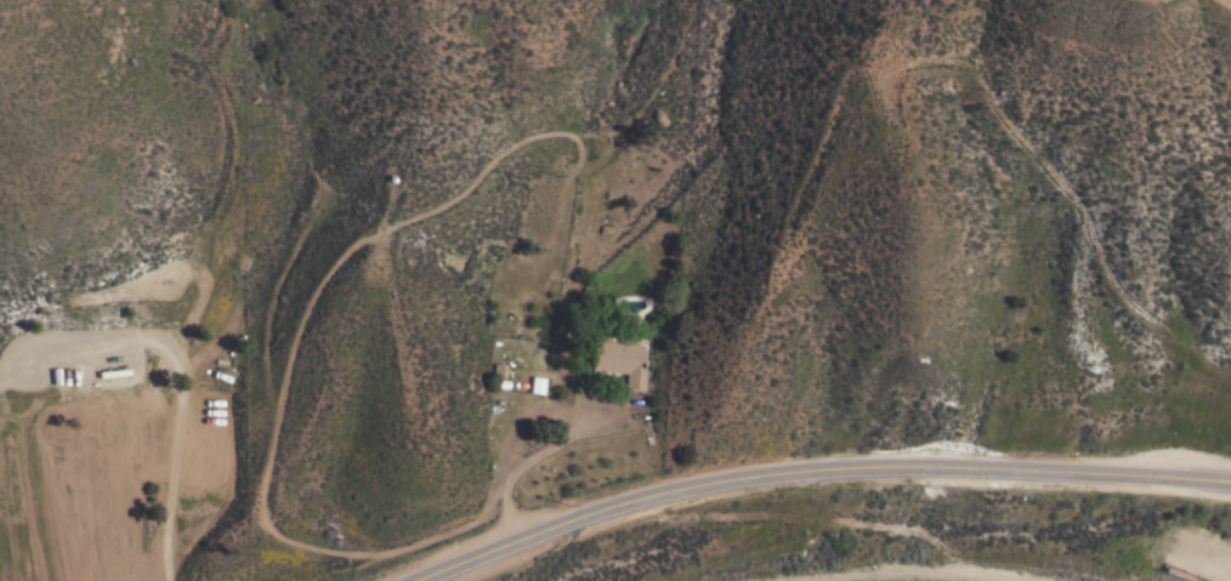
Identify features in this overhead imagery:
building: (618, 361)
building: (534, 385)
road: (554, 443)
road: (813, 471)

